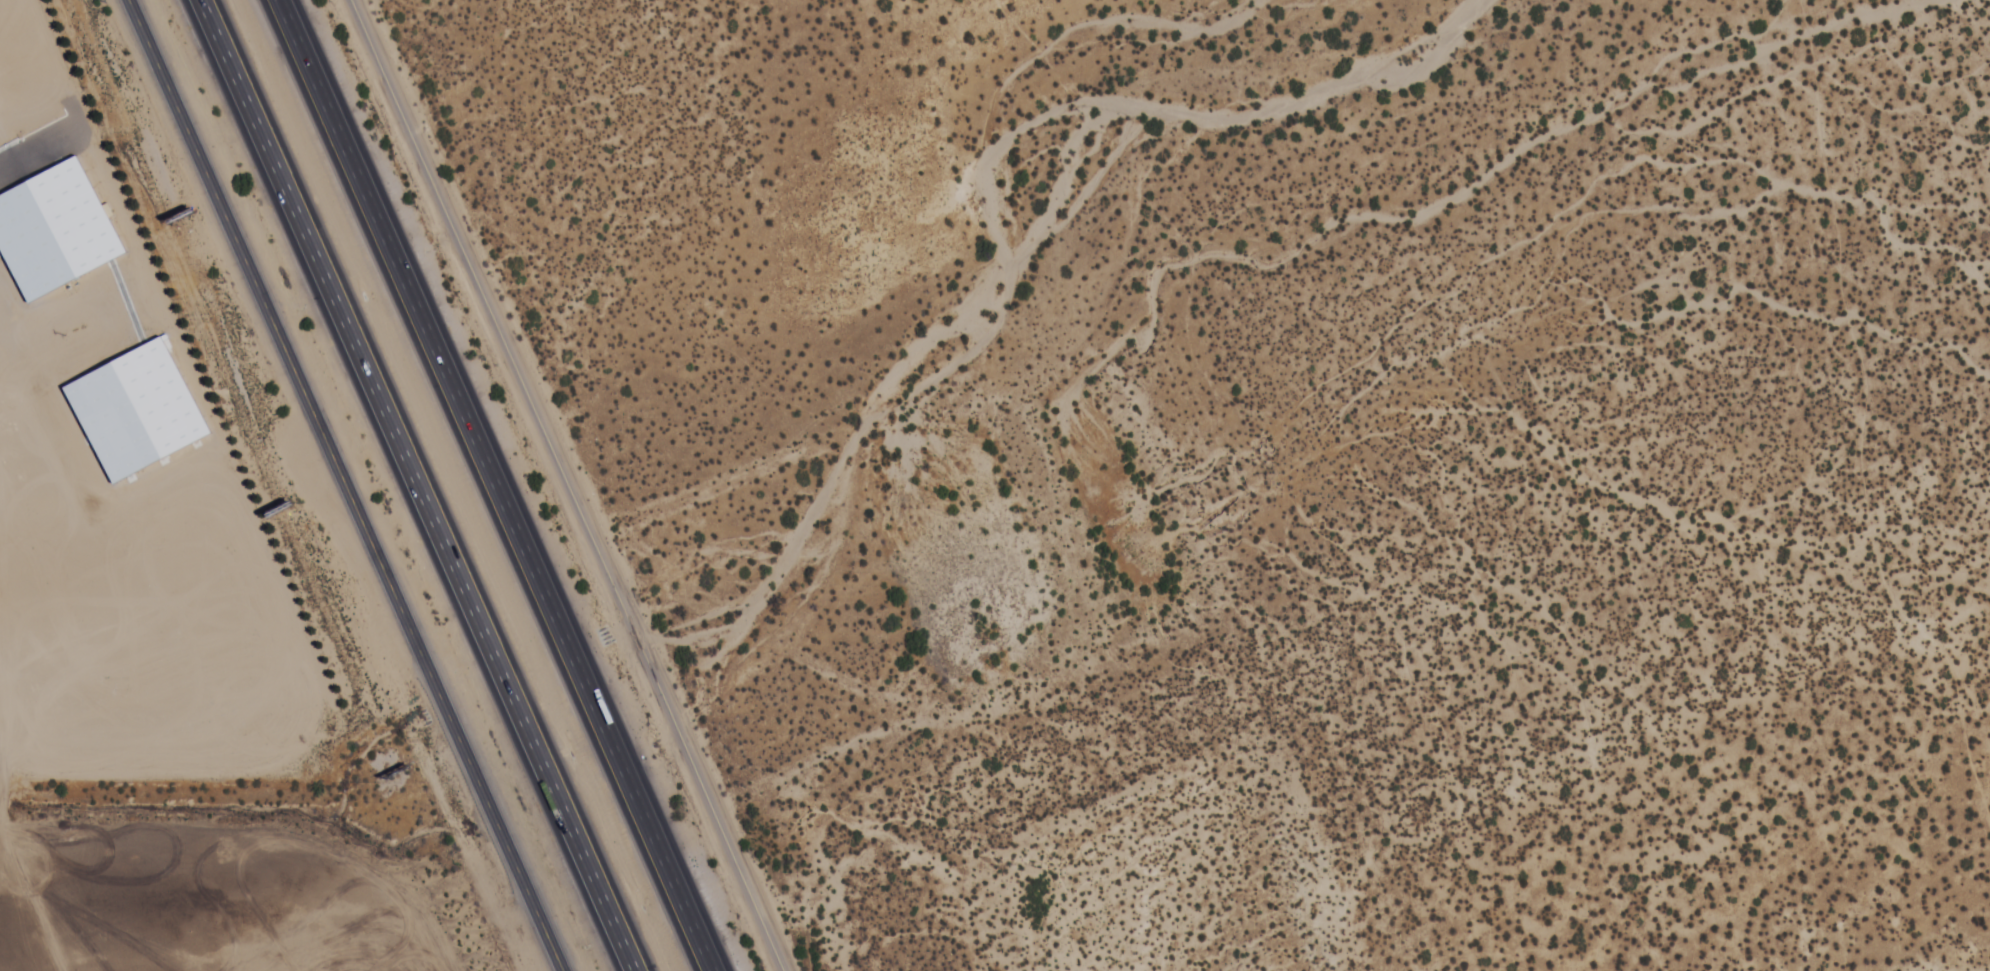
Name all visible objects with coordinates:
road: (347, 485)
road: (416, 485)
road: (497, 485)
road: (572, 485)

